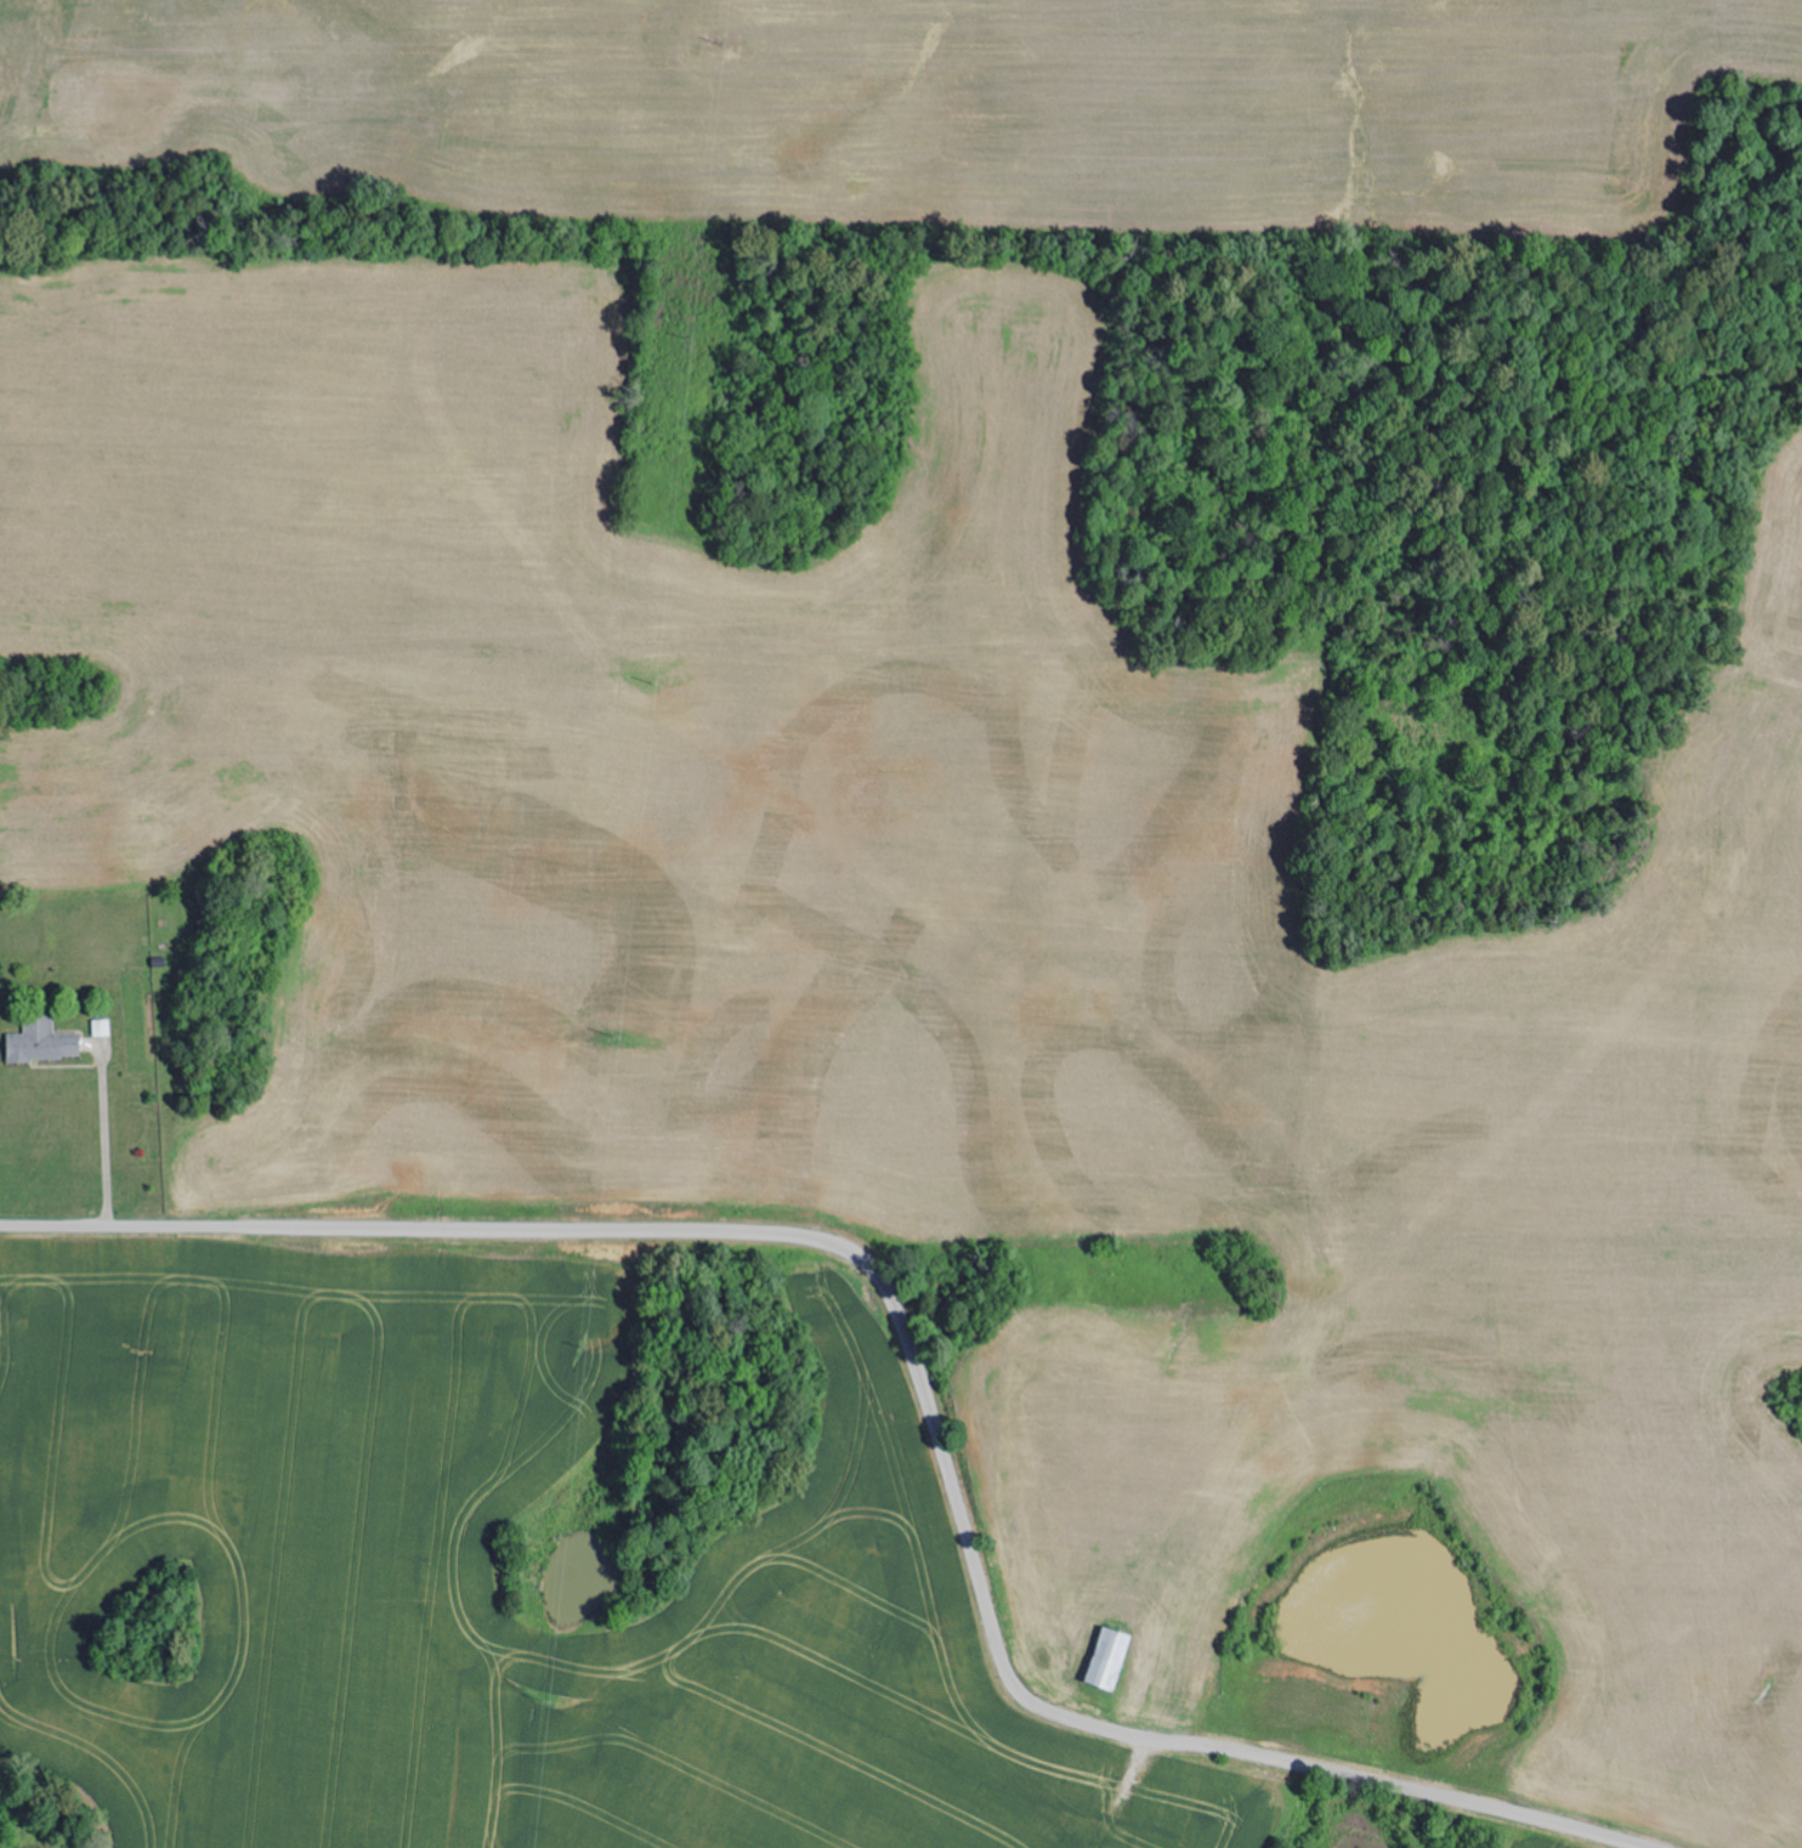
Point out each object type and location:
building: (45, 1041)
road: (919, 1362)
building: (1112, 1657)

